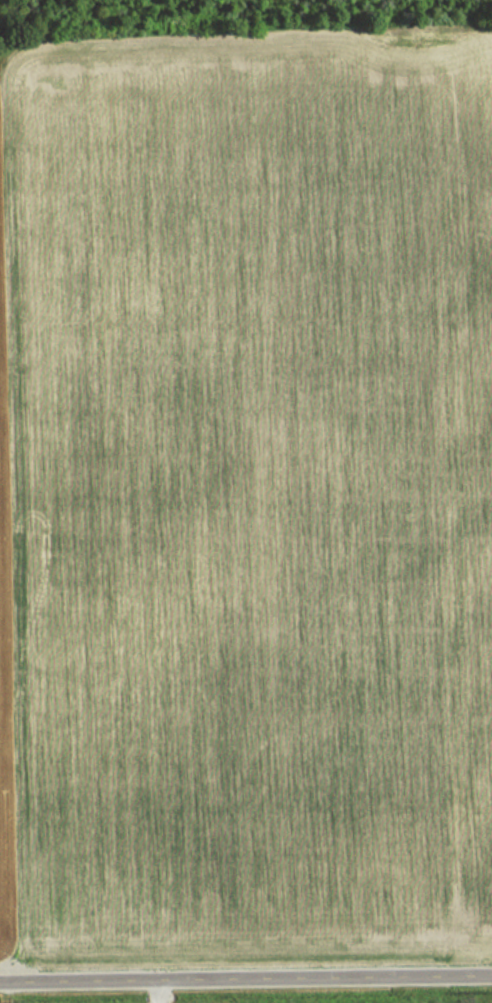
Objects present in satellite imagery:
crop: (246, 497)
road: (245, 978)
road: (153, 991)

